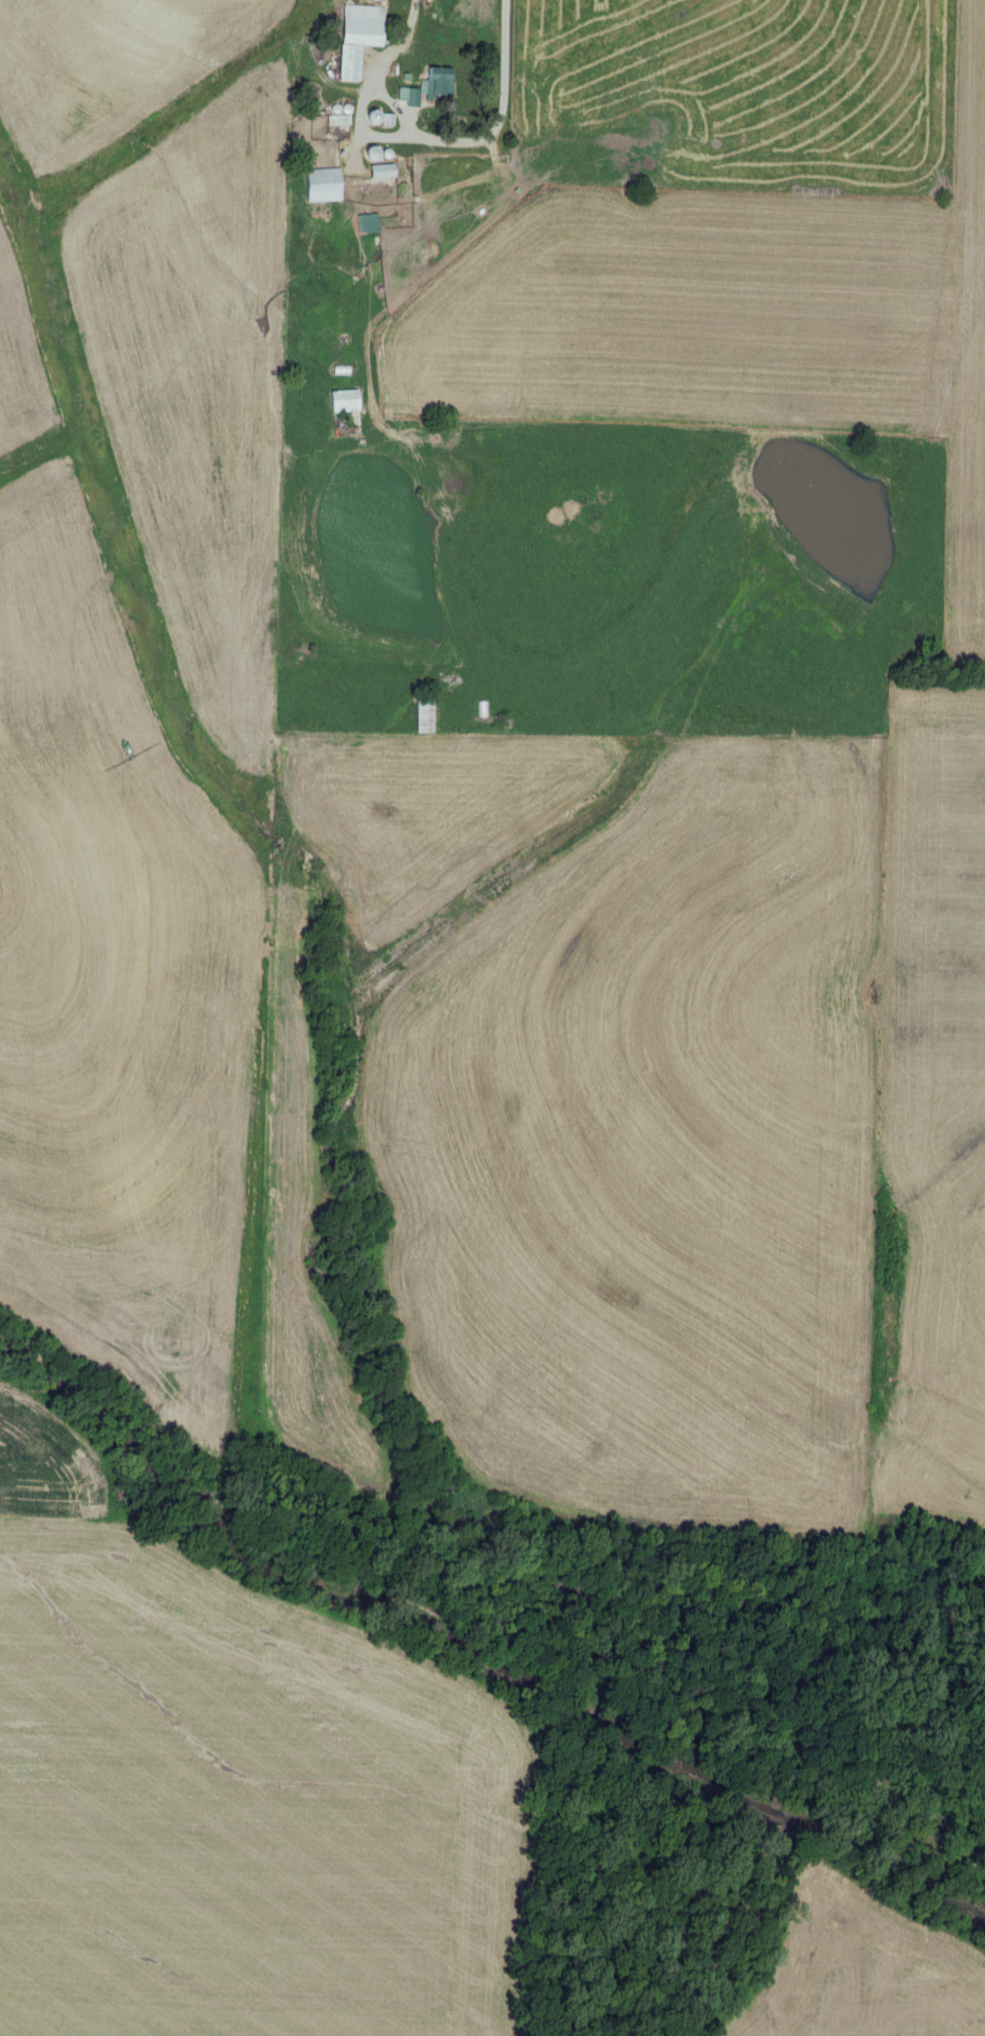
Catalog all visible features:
building: (354, 36)
road: (505, 48)
building: (425, 86)
road: (401, 118)
building: (378, 171)
building: (317, 185)
building: (363, 223)
building: (338, 369)
building: (341, 401)
building: (482, 709)
building: (422, 716)

